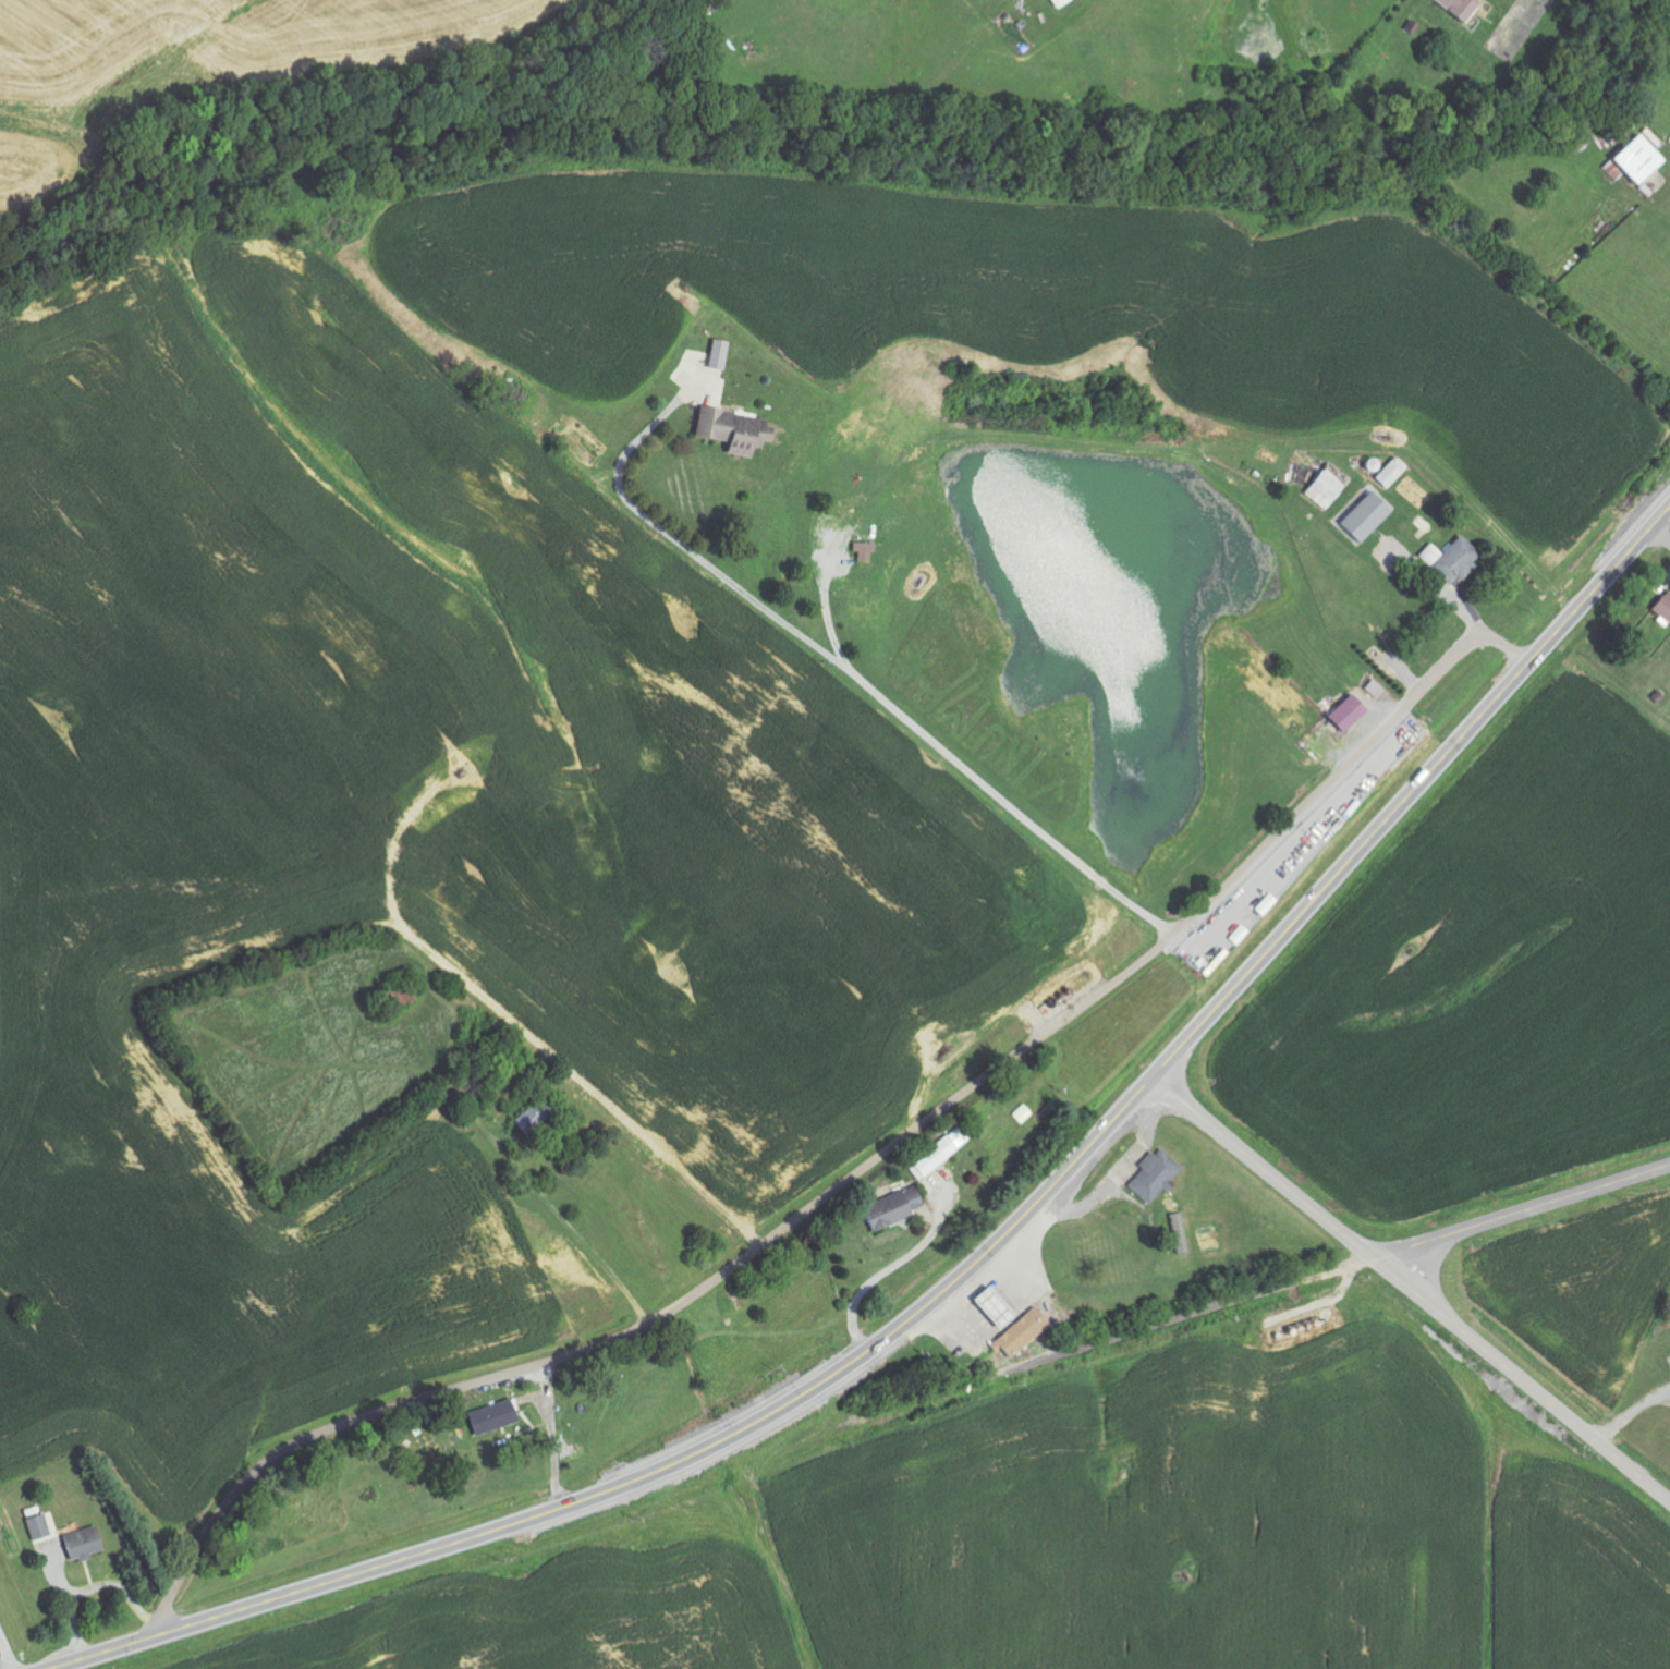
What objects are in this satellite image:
building: (1062, 3)
building: (1463, 9)
building: (1643, 161)
building: (720, 354)
building: (735, 430)
building: (1393, 473)
building: (1329, 487)
building: (1368, 516)
road: (1659, 536)
building: (864, 551)
building: (1454, 560)
building: (1665, 608)
road: (839, 661)
building: (1350, 712)
road: (1409, 793)
building: (1022, 1114)
building: (532, 1119)
road: (855, 1173)
building: (1157, 1175)
building: (895, 1209)
road: (1524, 1210)
road: (1411, 1289)
building: (1000, 1306)
building: (1026, 1331)
building: (495, 1416)
road: (654, 1471)
building: (39, 1526)
building: (85, 1543)
road: (1290, 1560)
road: (4, 1653)

